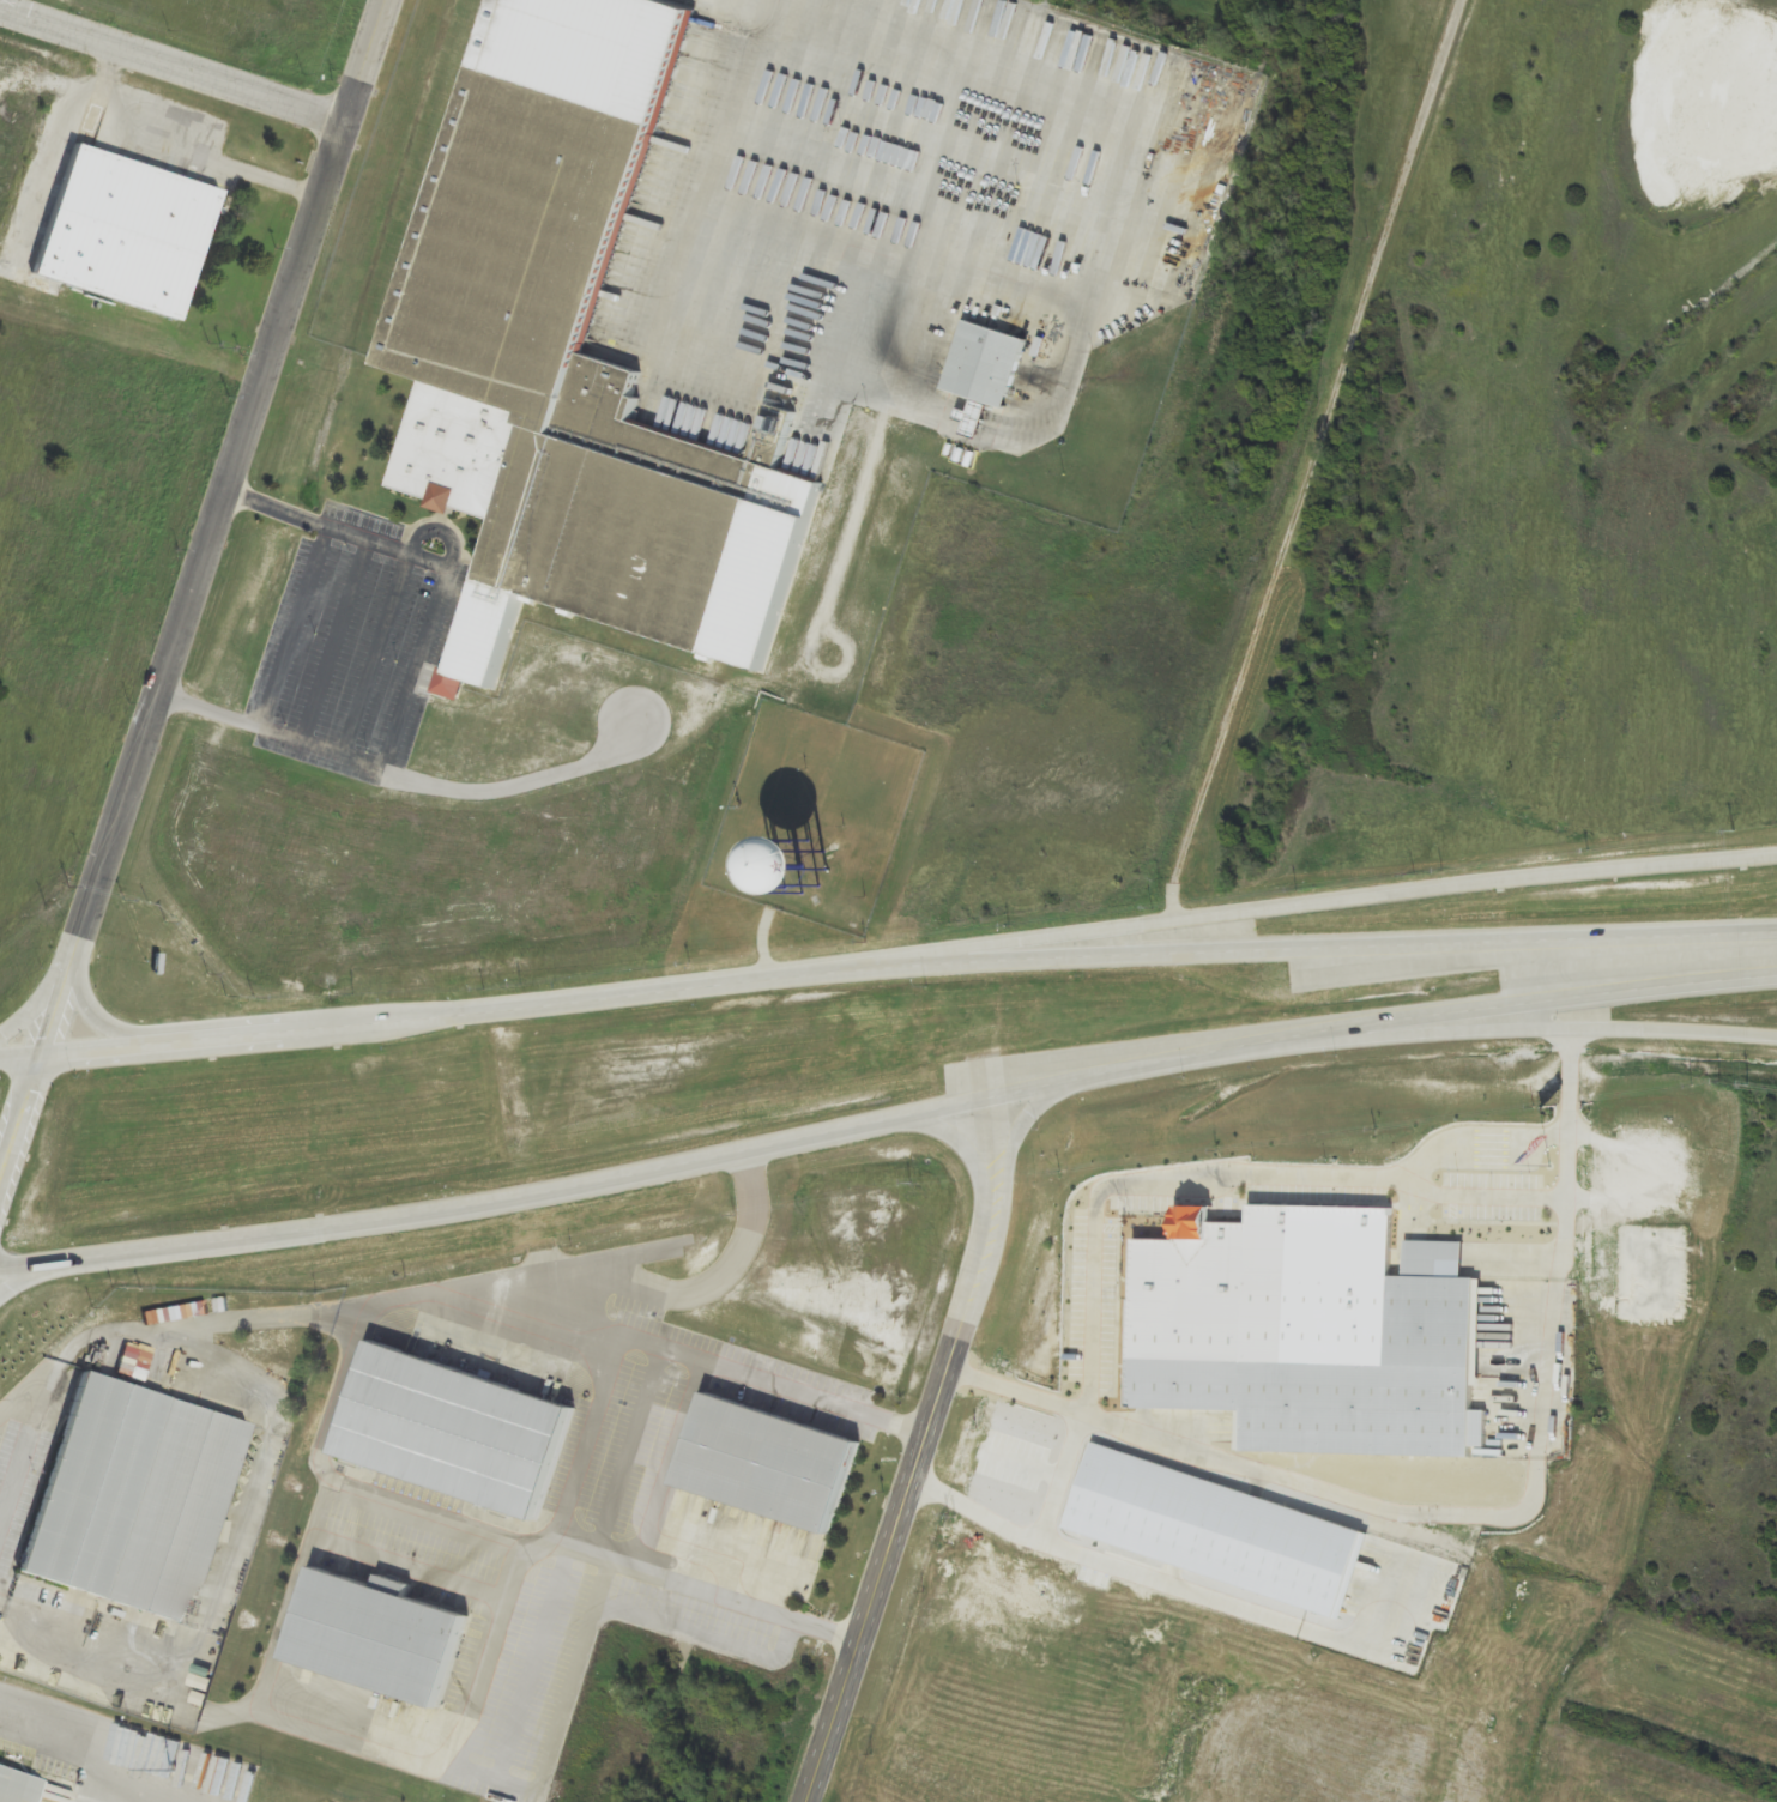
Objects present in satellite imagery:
road: (975, 60)
road: (368, 72)
road: (173, 78)
building: (122, 232)
building: (566, 332)
building: (983, 365)
building: (780, 425)
road: (1326, 458)
road: (294, 627)
road: (174, 636)
road: (412, 666)
road: (500, 796)
building: (780, 865)
road: (1270, 908)
road: (1271, 950)
road: (1735, 980)
road: (383, 1022)
road: (1527, 1026)
road: (1040, 1088)
road: (1564, 1144)
road: (1675, 1173)
road: (1223, 1179)
road: (1475, 1196)
road: (1415, 1217)
road: (194, 1242)
road: (1433, 1259)
road: (1509, 1263)
road: (371, 1304)
road: (581, 1310)
building: (1301, 1334)
road: (24, 1389)
road: (796, 1391)
road: (1017, 1391)
building: (449, 1429)
road: (921, 1455)
building: (764, 1463)
building: (126, 1492)
road: (321, 1514)
road: (1424, 1516)
road: (472, 1535)
road: (561, 1543)
road: (581, 1550)
road: (214, 1572)
road: (508, 1574)
road: (726, 1598)
road: (284, 1627)
building: (371, 1635)
road: (564, 1700)
road: (368, 1749)
road: (101, 1766)
power tower: (179, 1768)
road: (458, 1777)
building: (16, 1785)

